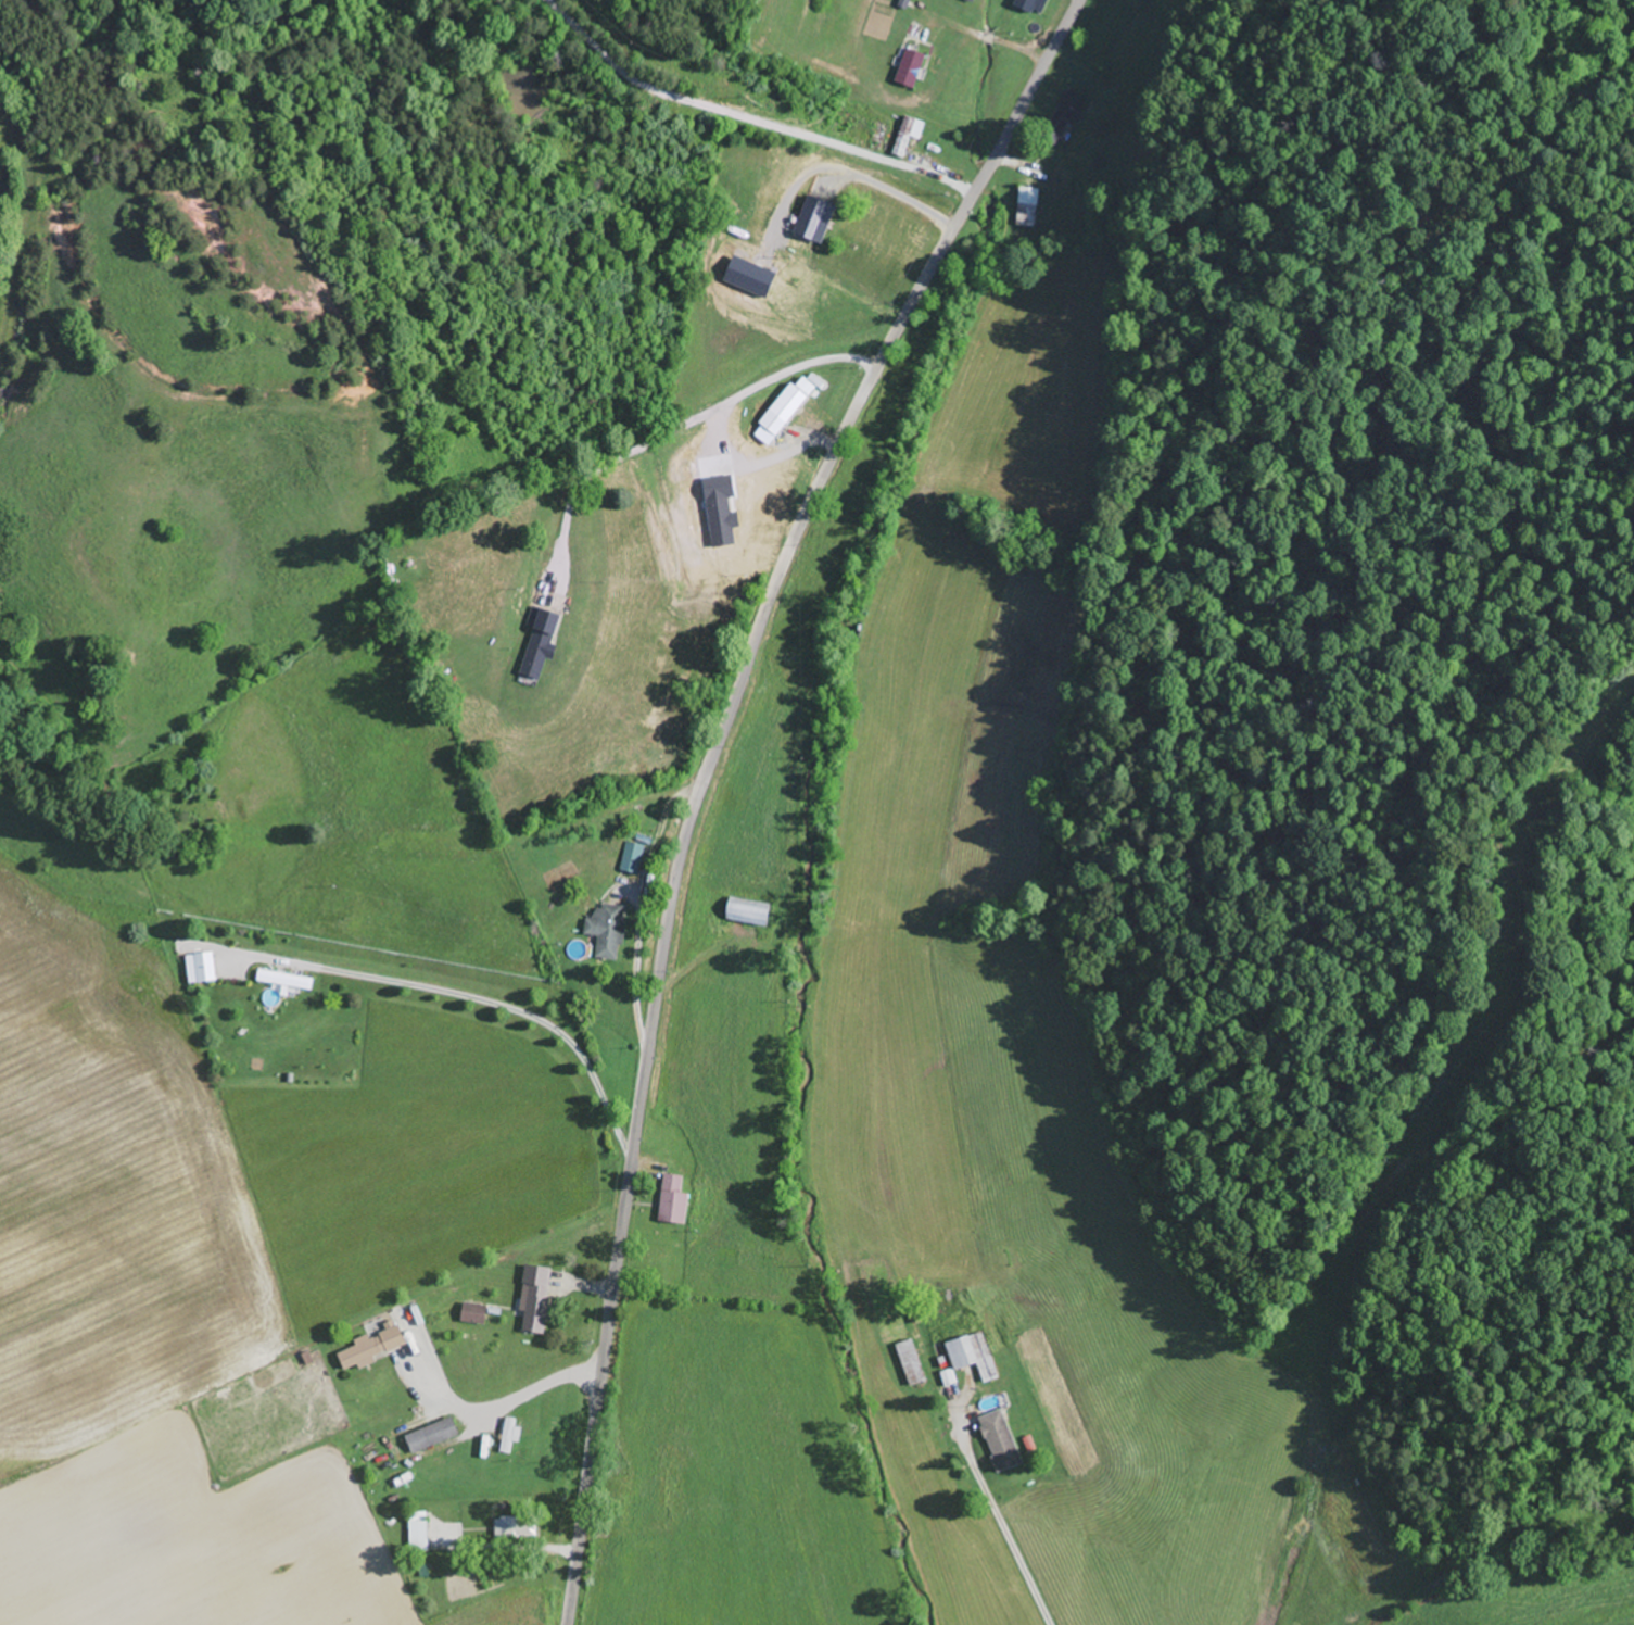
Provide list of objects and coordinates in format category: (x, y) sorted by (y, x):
building: (913, 67)
building: (879, 133)
building: (1027, 206)
building: (820, 224)
road: (25, 227)
building: (784, 412)
road: (705, 774)
building: (635, 857)
building: (751, 915)
building: (609, 929)
building: (203, 968)
building: (288, 980)
building: (675, 1200)
building: (539, 1298)
building: (395, 1338)
building: (362, 1351)
building: (972, 1355)
building: (911, 1362)
building: (434, 1434)
building: (510, 1434)
building: (553, 1437)
building: (1001, 1439)
road: (1002, 1488)
building: (518, 1526)
building: (419, 1532)

